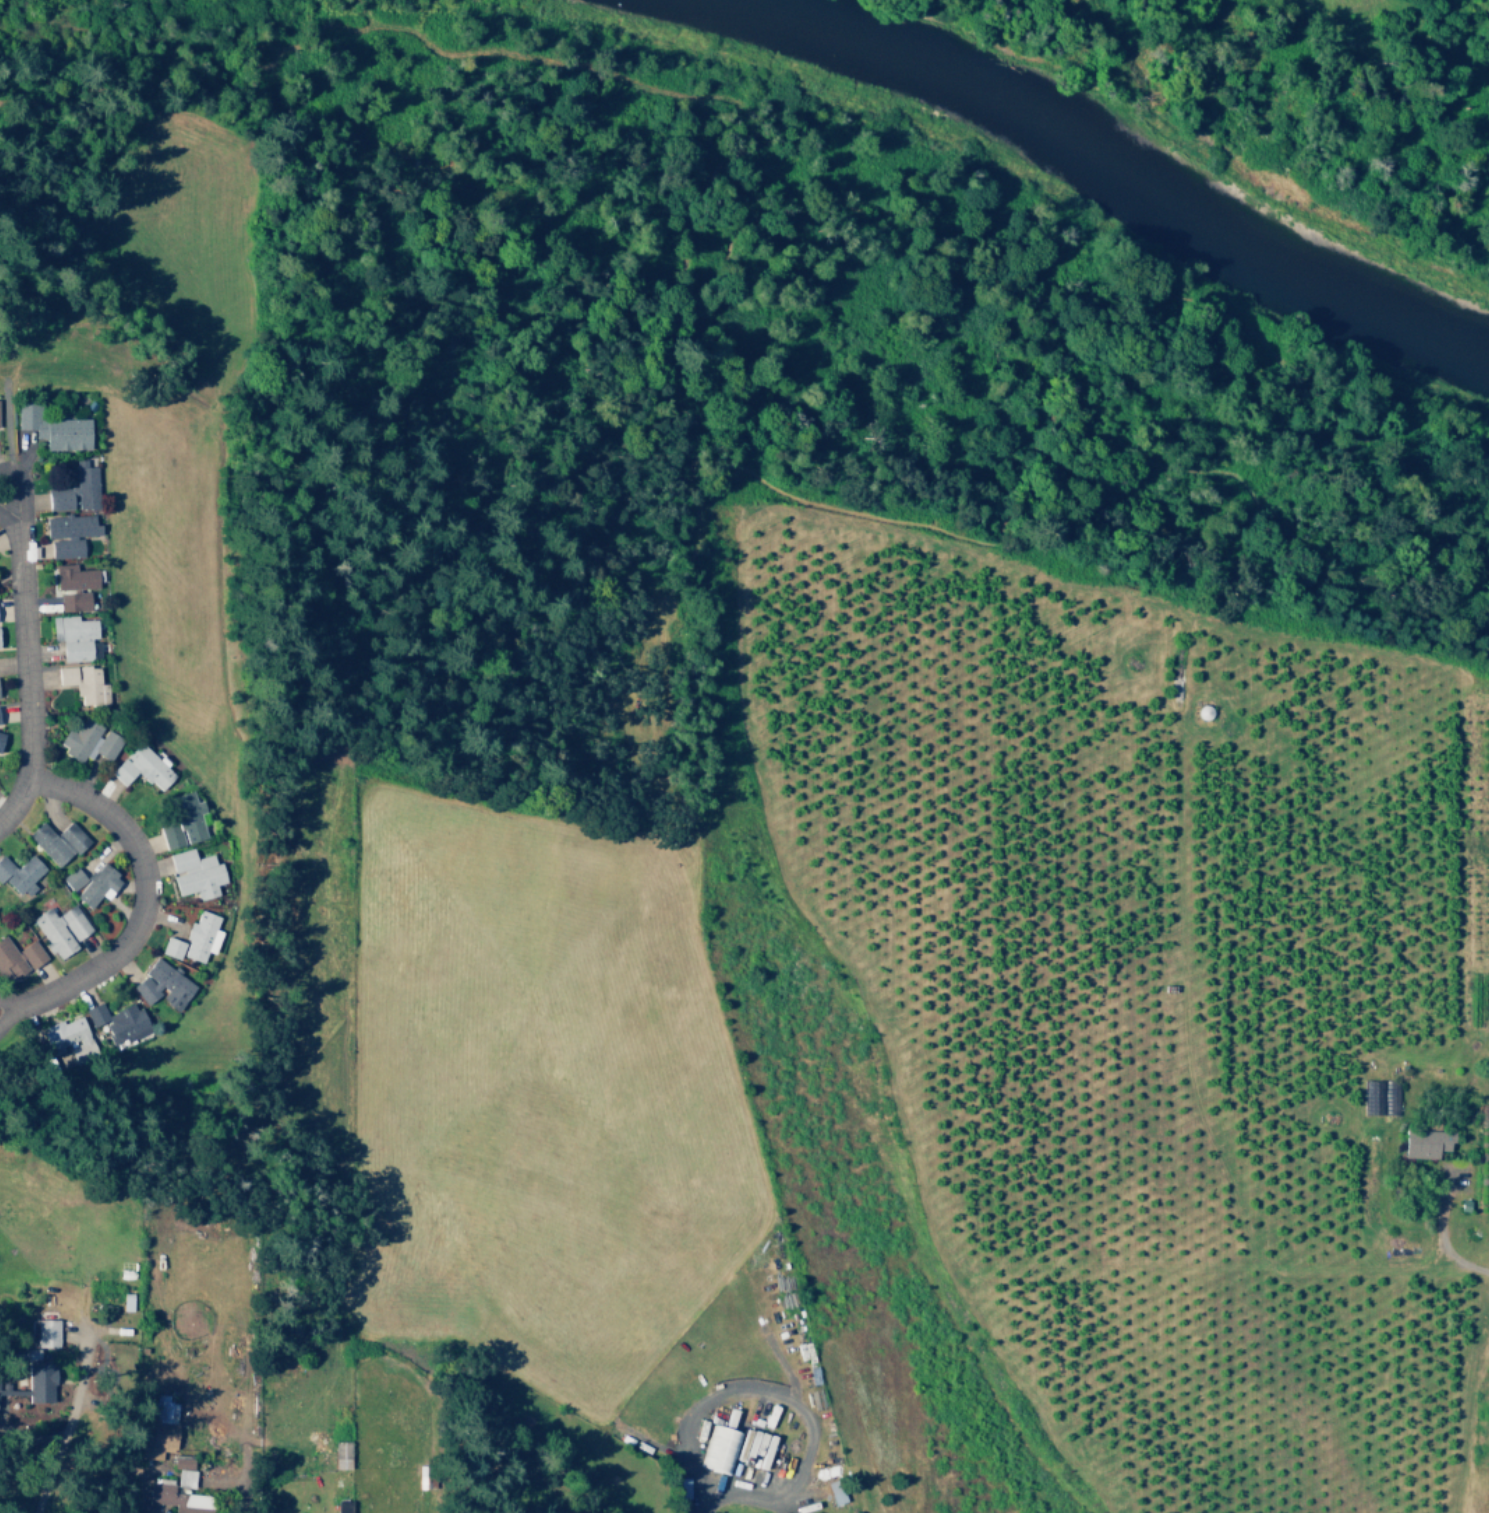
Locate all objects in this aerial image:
road: (1402, 54)
river: (1080, 164)
building: (53, 427)
building: (75, 490)
road: (24, 498)
road: (11, 529)
building: (69, 533)
building: (74, 577)
building: (73, 601)
building: (73, 636)
building: (83, 682)
road: (24, 687)
building: (1, 736)
building: (89, 740)
building: (142, 766)
building: (182, 821)
building: (56, 841)
building: (19, 872)
building: (194, 873)
building: (91, 883)
road: (143, 883)
building: (60, 929)
building: (200, 936)
building: (171, 947)
building: (30, 954)
building: (9, 961)
building: (162, 985)
road: (20, 1002)
road: (20, 1012)
building: (118, 1021)
building: (65, 1034)
building: (1384, 1097)
building: (1426, 1143)
road: (1441, 1240)
building: (126, 1301)
building: (46, 1332)
building: (39, 1381)
building: (164, 1408)
road: (64, 1426)
building: (753, 1447)
building: (719, 1448)
building: (183, 1470)
building: (836, 1491)
building: (179, 1499)

